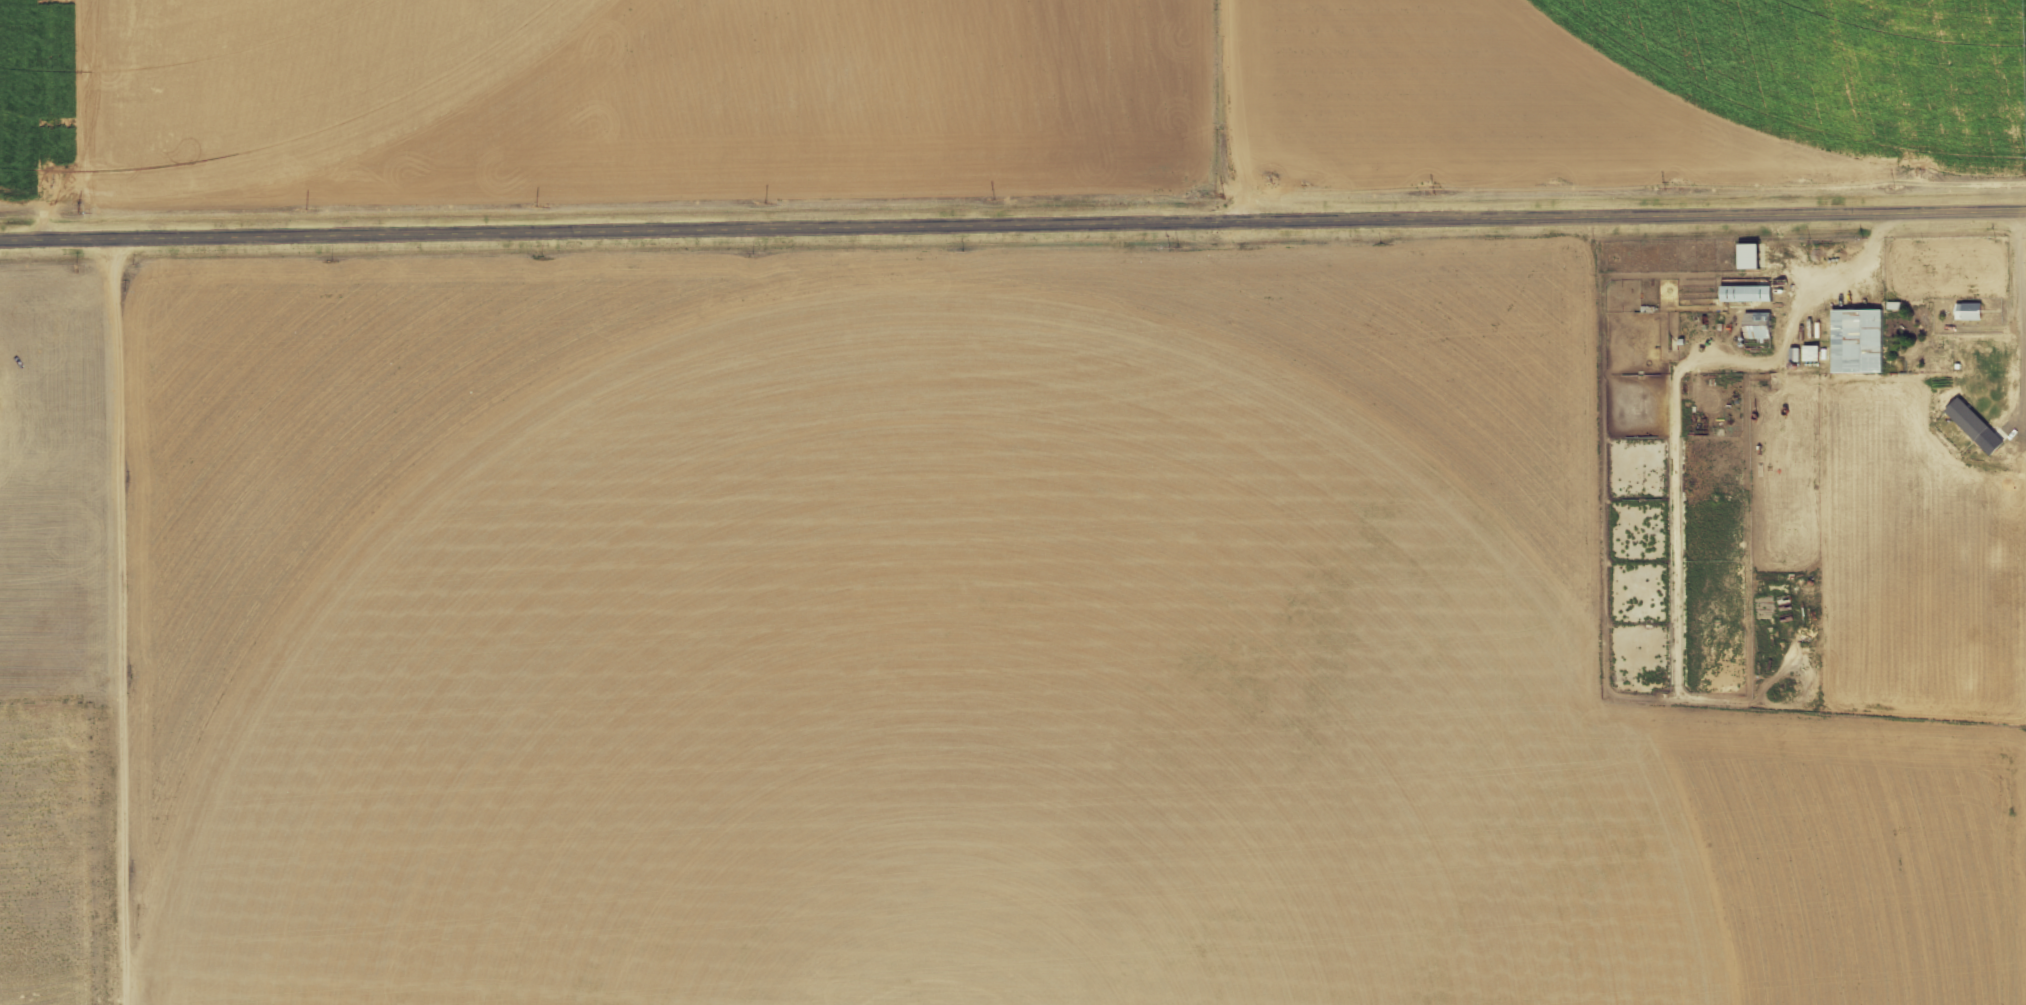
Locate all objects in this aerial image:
road: (1207, 112)
road: (24, 124)
road: (1012, 227)
road: (1676, 381)
building: (1977, 425)

